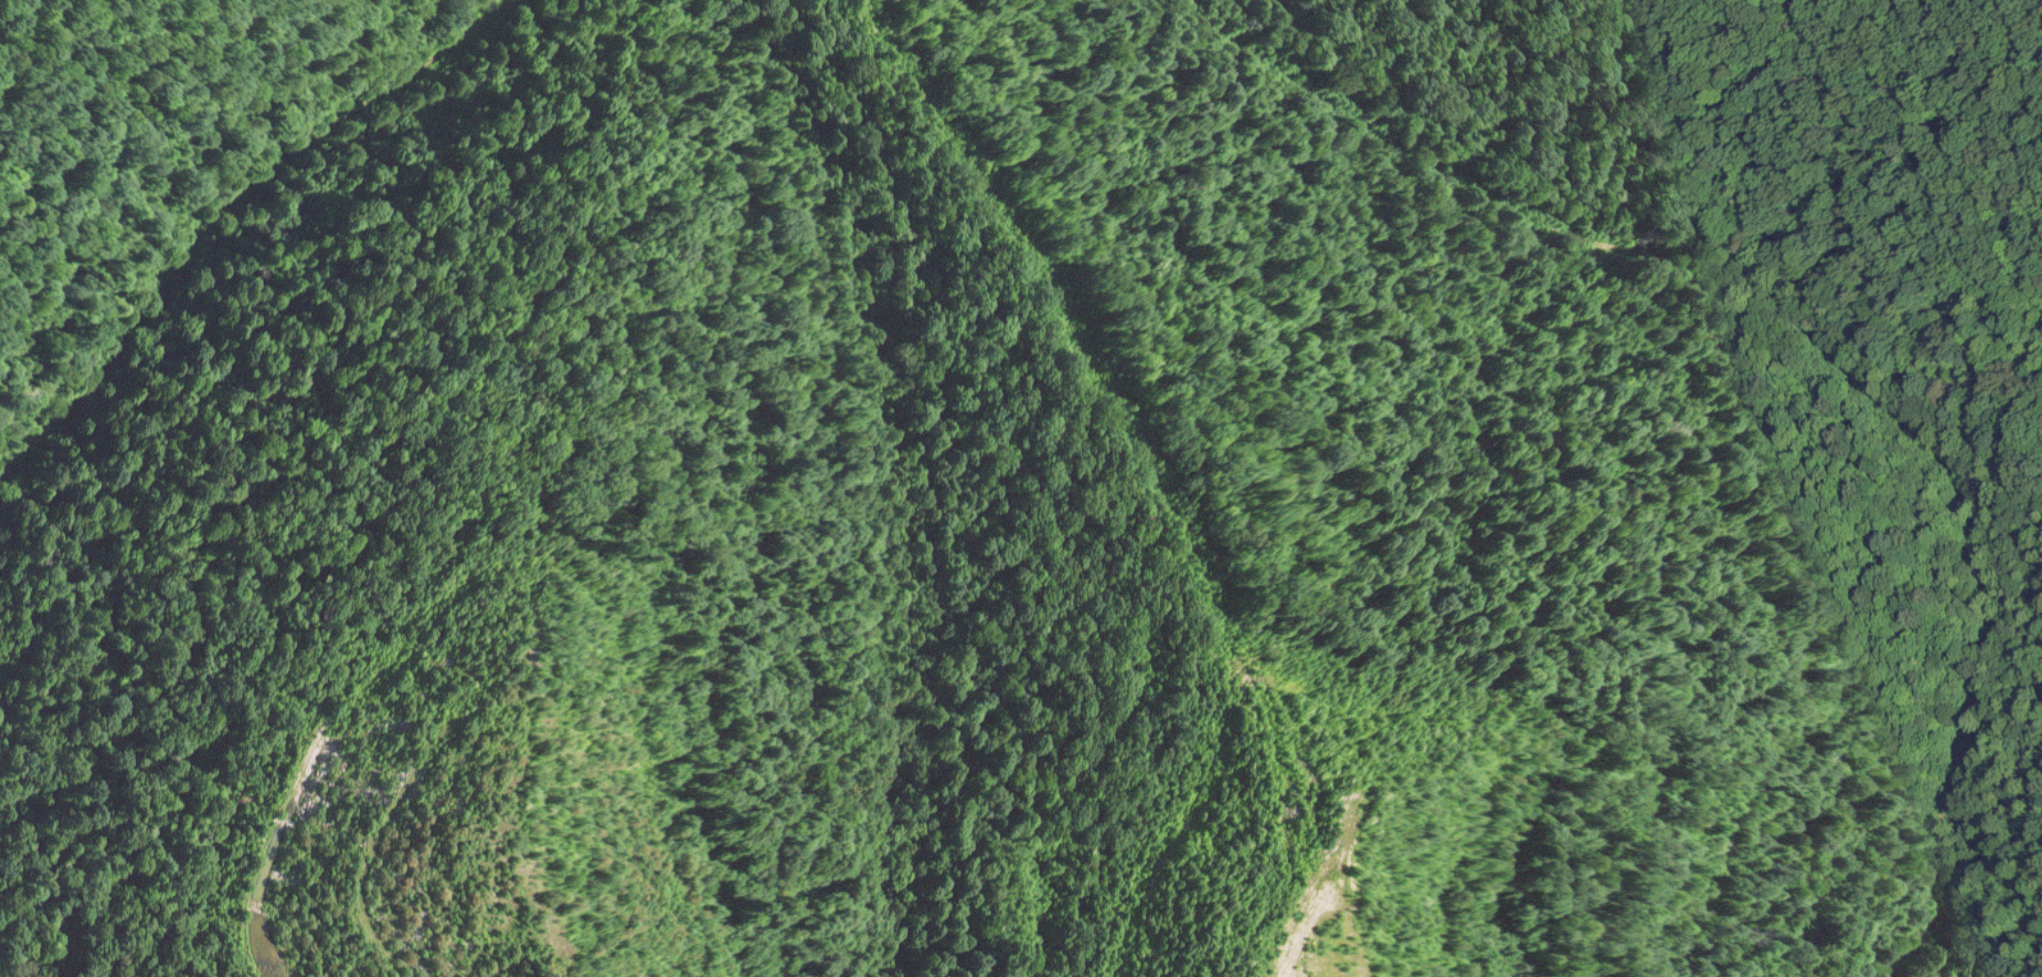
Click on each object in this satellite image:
quarry: (857, 570)

